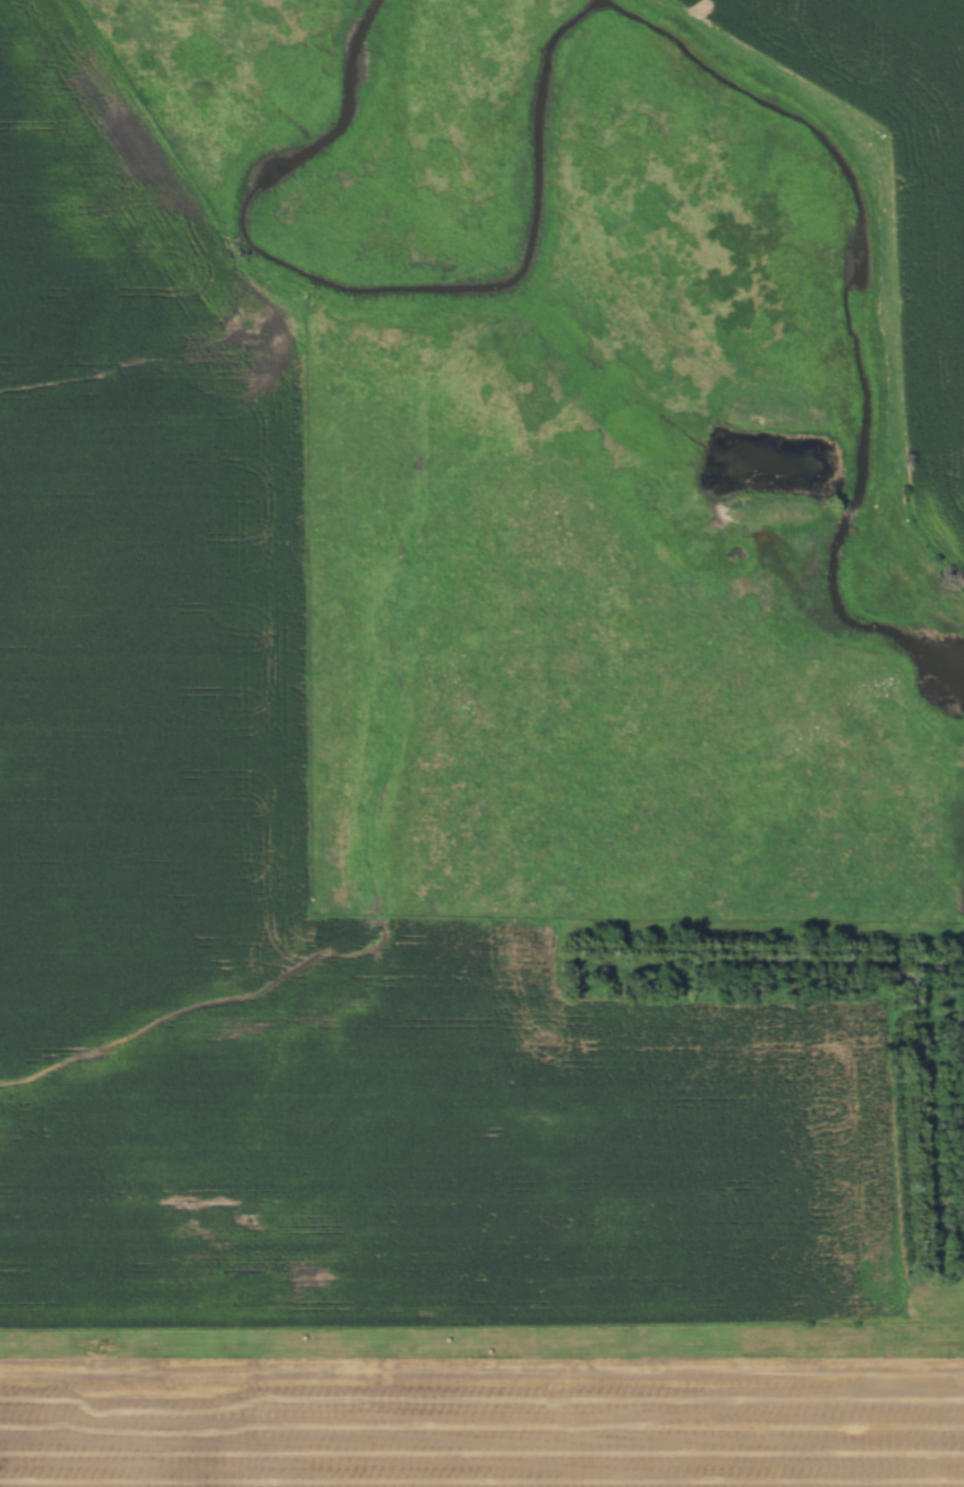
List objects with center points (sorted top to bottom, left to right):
road: (482, 1353)

